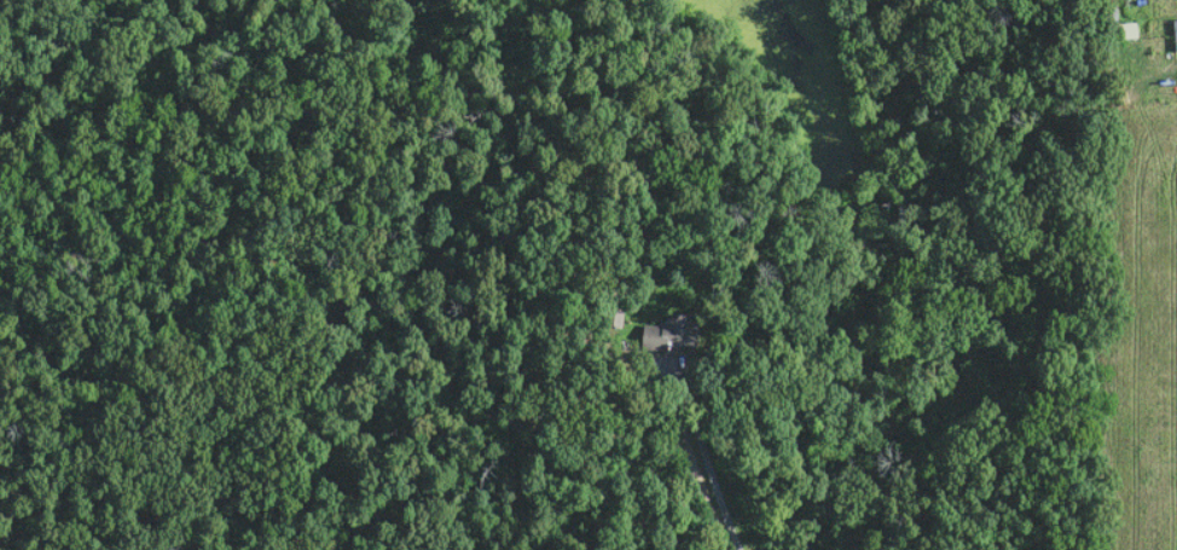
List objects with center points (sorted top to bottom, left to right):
building: (1175, 35)
building: (673, 335)
road: (697, 480)

